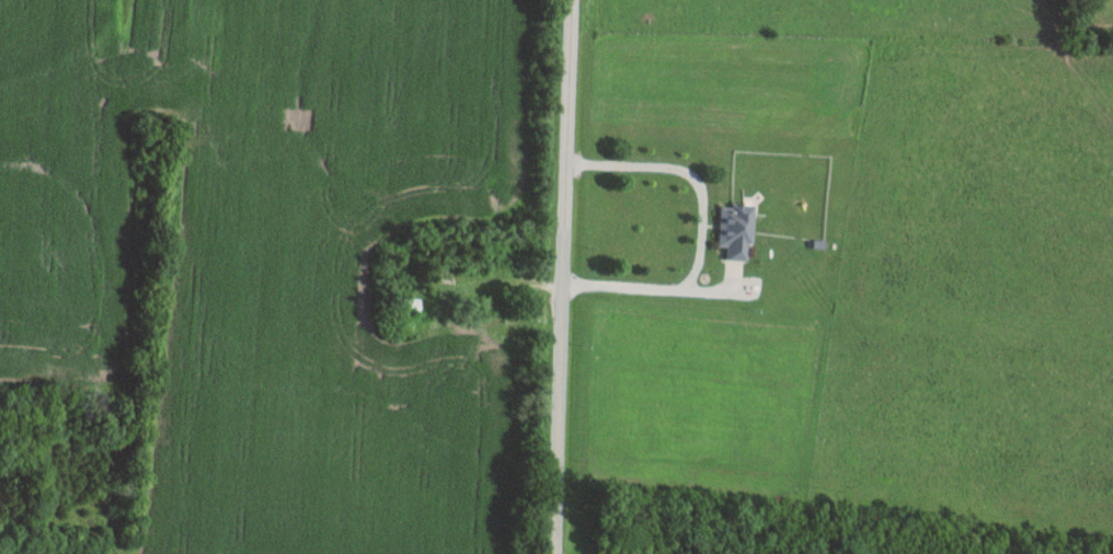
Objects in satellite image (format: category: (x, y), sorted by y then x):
road: (699, 226)
building: (735, 229)
road: (561, 276)
building: (405, 303)

